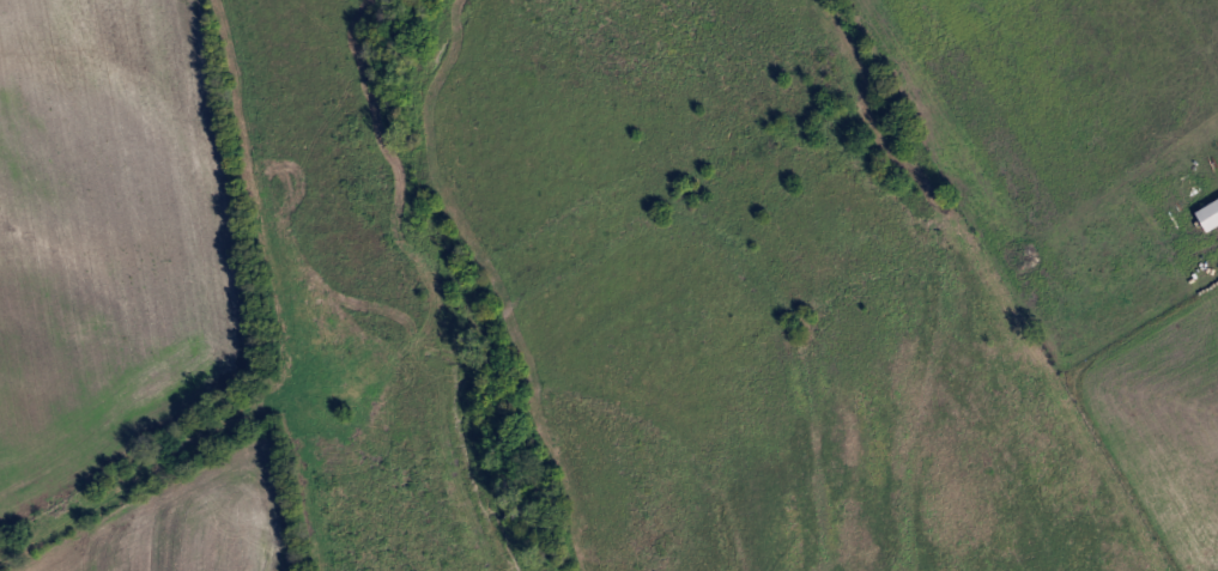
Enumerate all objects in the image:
building: (1205, 213)

